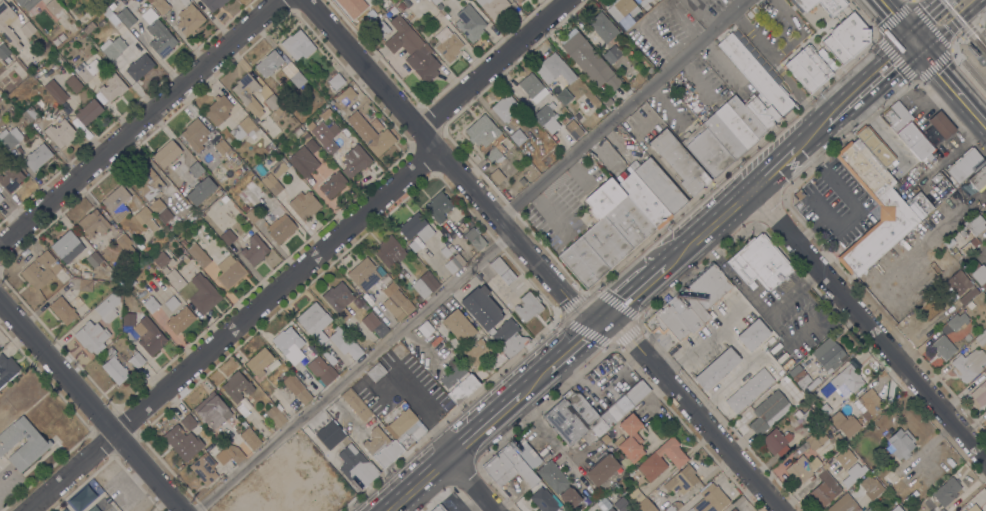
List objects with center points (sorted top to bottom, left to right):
building: (516, 0)
building: (518, 0)
road: (910, 0)
road: (911, 0)
building: (26, 3)
building: (213, 4)
building: (160, 5)
building: (822, 5)
building: (401, 6)
building: (352, 7)
building: (54, 8)
building: (494, 8)
building: (625, 8)
building: (110, 15)
road: (894, 15)
road: (924, 15)
road: (700, 16)
building: (126, 17)
building: (189, 19)
building: (469, 22)
road: (930, 24)
road: (950, 25)
railway: (964, 25)
building: (88, 27)
building: (603, 27)
building: (4, 28)
building: (27, 30)
building: (379, 30)
road: (968, 31)
traffic signals: (908, 32)
building: (158, 34)
road: (911, 36)
building: (61, 37)
building: (846, 38)
building: (56, 41)
road: (917, 44)
building: (298, 45)
building: (447, 45)
building: (113, 47)
building: (412, 49)
traffic signals: (921, 49)
building: (3, 51)
road: (781, 52)
building: (612, 55)
building: (585, 58)
road: (895, 58)
building: (269, 63)
road: (493, 65)
building: (139, 67)
road: (968, 67)
road: (873, 68)
building: (89, 69)
building: (553, 69)
building: (807, 69)
building: (755, 75)
road: (881, 78)
building: (297, 80)
building: (336, 81)
building: (613, 82)
building: (73, 84)
building: (632, 85)
road: (953, 86)
building: (112, 87)
building: (532, 87)
road: (794, 88)
building: (55, 91)
building: (248, 94)
building: (562, 94)
building: (346, 96)
building: (272, 102)
building: (607, 102)
building: (505, 108)
building: (218, 109)
road: (622, 110)
building: (88, 112)
building: (327, 113)
building: (762, 113)
building: (30, 114)
building: (546, 117)
building: (745, 117)
road: (138, 118)
road: (822, 122)
building: (941, 125)
building: (244, 129)
building: (573, 129)
building: (907, 130)
building: (728, 132)
building: (61, 133)
building: (195, 134)
building: (370, 134)
building: (323, 136)
building: (10, 137)
building: (518, 137)
building: (303, 138)
building: (487, 138)
road: (963, 143)
building: (268, 147)
building: (873, 147)
building: (222, 148)
building: (707, 151)
building: (167, 153)
building: (37, 157)
building: (929, 157)
building: (355, 161)
building: (679, 161)
building: (303, 163)
road: (449, 164)
road: (777, 164)
building: (965, 165)
building: (278, 168)
building: (195, 169)
building: (864, 169)
building: (237, 172)
building: (496, 176)
building: (10, 177)
building: (979, 178)
building: (147, 182)
building: (271, 184)
building: (333, 185)
building: (657, 185)
building: (200, 190)
building: (1, 198)
building: (643, 200)
building: (117, 203)
building: (304, 205)
building: (438, 207)
building: (244, 208)
building: (160, 211)
building: (253, 214)
building: (148, 220)
building: (93, 223)
building: (415, 227)
building: (281, 228)
road: (705, 229)
building: (884, 230)
building: (605, 234)
building: (228, 237)
building: (475, 237)
building: (980, 237)
building: (952, 239)
building: (183, 242)
building: (126, 245)
building: (413, 246)
building: (67, 247)
building: (254, 250)
building: (447, 251)
building: (390, 252)
building: (198, 255)
building: (184, 258)
building: (162, 259)
building: (454, 263)
building: (760, 263)
building: (99, 267)
building: (40, 270)
building: (502, 270)
building: (229, 272)
building: (979, 273)
building: (363, 274)
building: (174, 279)
railway: (651, 281)
building: (129, 282)
building: (956, 283)
building: (85, 285)
building: (424, 285)
road: (632, 293)
building: (203, 294)
building: (966, 297)
building: (339, 300)
building: (396, 301)
building: (172, 303)
building: (150, 304)
building: (689, 304)
building: (108, 307)
building: (528, 307)
building: (63, 310)
building: (128, 319)
building: (179, 320)
building: (493, 321)
road: (601, 321)
building: (957, 321)
building: (314, 322)
road: (868, 323)
building: (374, 324)
building: (459, 326)
road: (231, 329)
building: (425, 329)
building: (753, 334)
building: (92, 337)
building: (151, 338)
building: (981, 338)
building: (345, 343)
building: (288, 346)
road: (573, 346)
building: (943, 347)
building: (477, 352)
building: (828, 354)
building: (326, 355)
building: (136, 360)
building: (259, 362)
building: (968, 365)
building: (114, 367)
building: (336, 367)
building: (603, 367)
building: (7, 369)
building: (716, 369)
building: (321, 370)
road: (348, 372)
building: (376, 372)
building: (799, 376)
building: (786, 379)
road: (535, 381)
building: (458, 383)
building: (236, 386)
building: (837, 386)
building: (298, 389)
building: (749, 390)
building: (978, 395)
building: (356, 404)
building: (868, 404)
building: (620, 407)
road: (92, 408)
building: (212, 410)
building: (242, 410)
building: (827, 410)
road: (695, 412)
building: (769, 412)
building: (798, 414)
building: (276, 416)
building: (837, 420)
building: (188, 421)
building: (567, 424)
road: (484, 425)
building: (405, 429)
building: (326, 434)
building: (817, 437)
building: (250, 439)
building: (630, 439)
building: (848, 439)
building: (182, 442)
building: (776, 442)
building: (837, 442)
building: (901, 443)
building: (380, 444)
building: (30, 450)
building: (229, 455)
building: (529, 456)
building: (830, 461)
building: (652, 462)
building: (356, 467)
building: (509, 467)
building: (204, 468)
building: (602, 469)
building: (802, 469)
building: (318, 471)
building: (553, 477)
building: (850, 479)
building: (681, 480)
road: (417, 484)
road: (471, 484)
building: (871, 487)
building: (946, 492)
building: (83, 496)
building: (249, 496)
building: (635, 496)
building: (569, 498)
building: (544, 500)
building: (711, 500)
building: (304, 502)
building: (621, 504)
building: (604, 505)
building: (645, 506)
building: (673, 506)
building: (849, 506)
building: (439, 508)
building: (972, 508)
building: (92, 509)
building: (733, 509)
building: (896, 509)
building: (964, 509)
building: (62, 510)
building: (941, 510)

